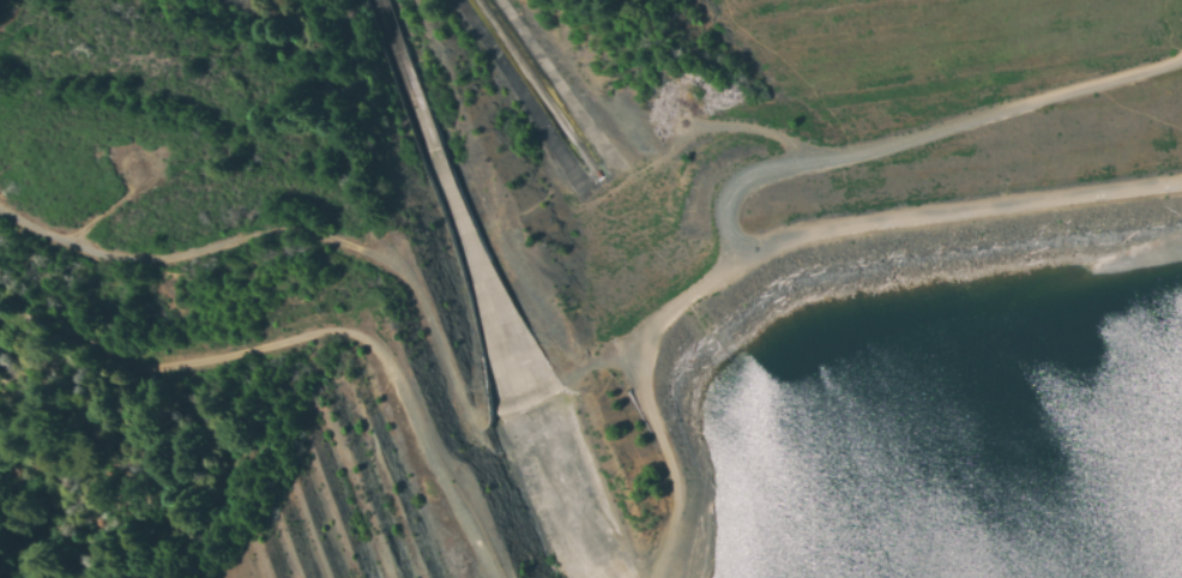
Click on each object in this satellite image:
road: (813, 157)
road: (957, 210)
road: (273, 241)
dam: (824, 307)
road: (315, 336)
dam: (550, 401)
road: (662, 450)

